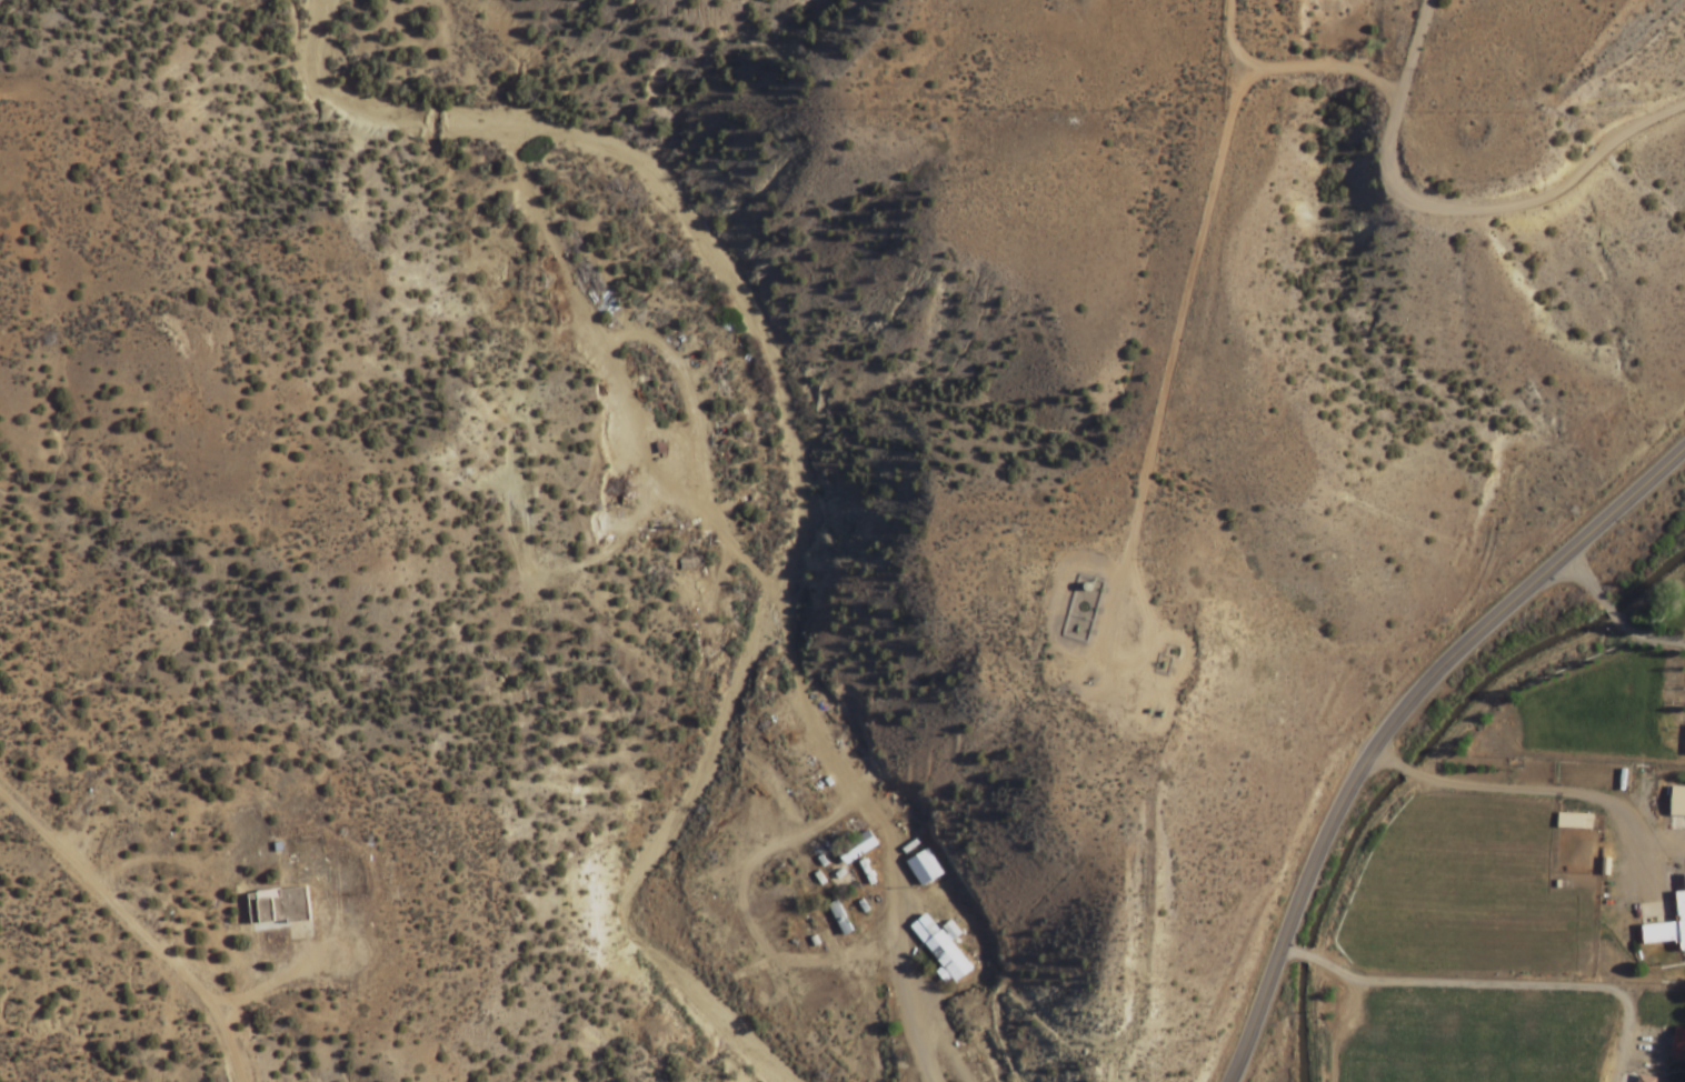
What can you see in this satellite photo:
road: (1303, 68)
road: (12, 97)
road: (1455, 210)
road: (1166, 375)
road: (685, 390)
road: (616, 542)
road: (770, 600)
road: (1394, 720)
building: (789, 725)
road: (1419, 773)
road: (1551, 791)
building: (1677, 801)
road: (1664, 843)
building: (856, 846)
building: (923, 868)
road: (79, 873)
building: (1684, 880)
building: (278, 906)
building: (839, 919)
road: (746, 921)
building: (1667, 928)
building: (940, 948)
road: (1490, 985)
road: (268, 986)
road: (218, 999)
road: (210, 1010)
road: (1338, 1030)
building: (975, 1066)
road: (949, 1068)
building: (1644, 1079)
road: (1616, 1080)

